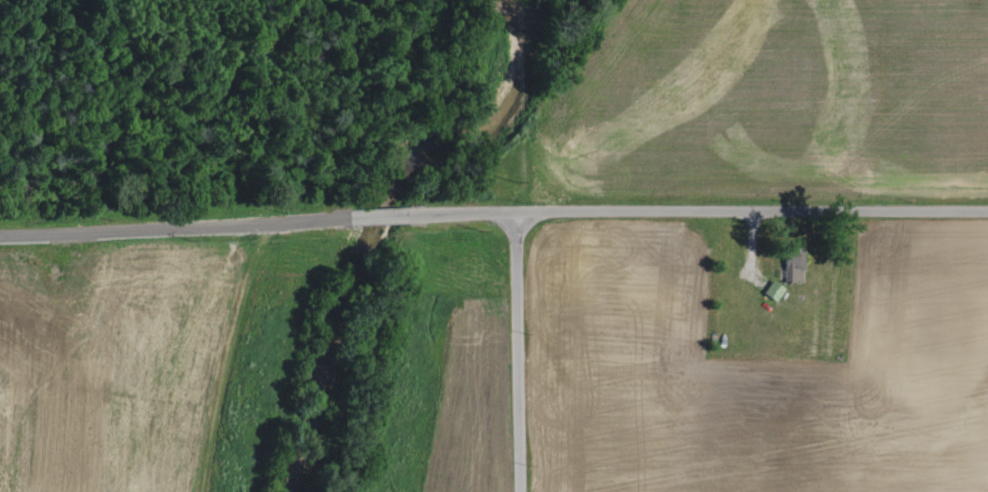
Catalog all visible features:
road: (697, 207)
river: (375, 215)
road: (366, 216)
road: (162, 225)
building: (797, 269)
building: (776, 289)
road: (516, 350)

